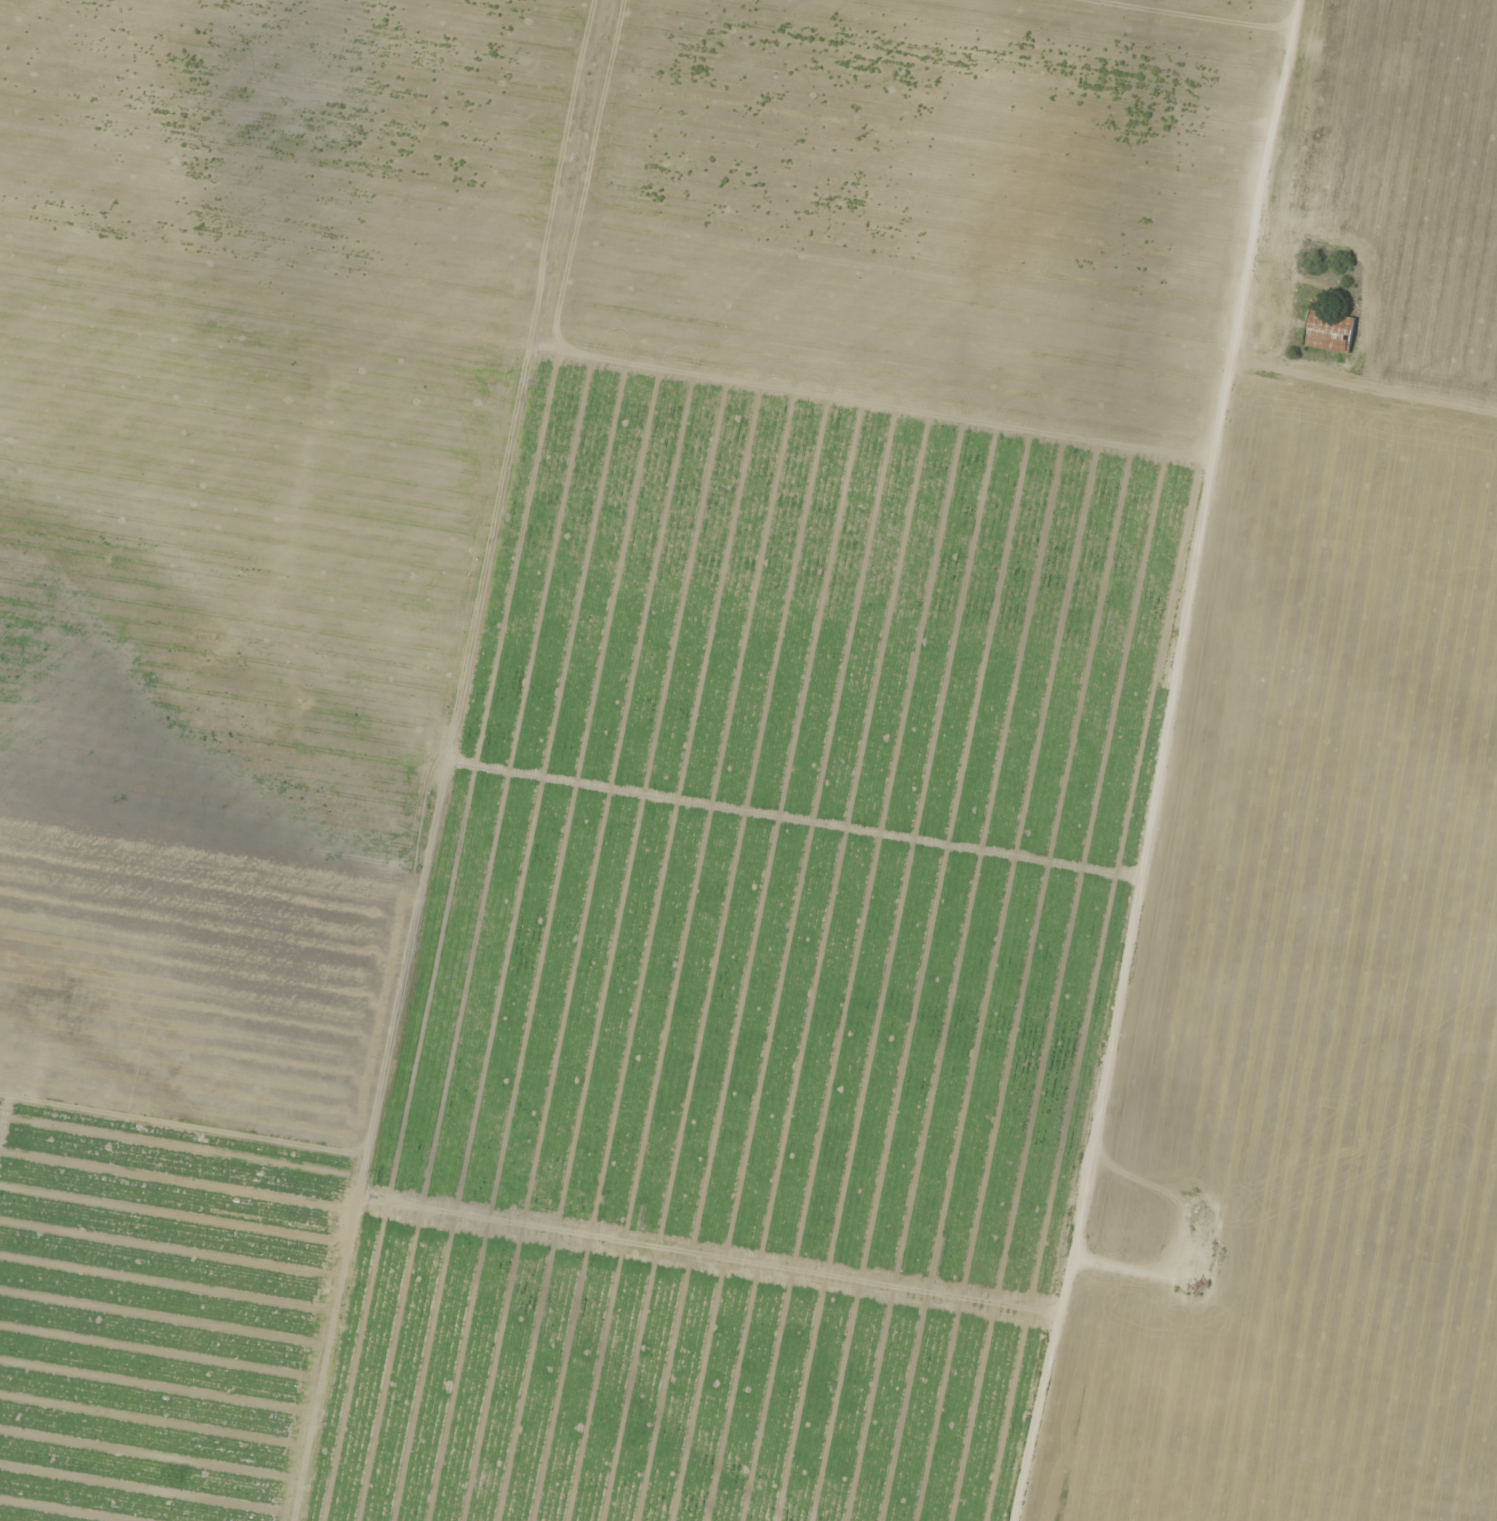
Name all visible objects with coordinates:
building: (1328, 333)
road: (1190, 647)

